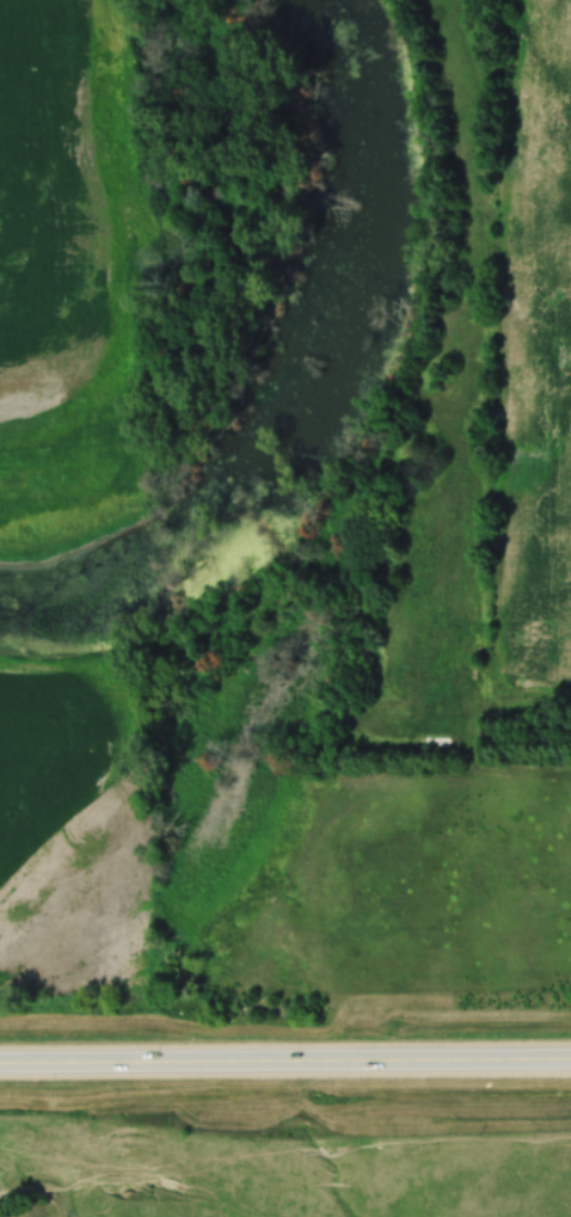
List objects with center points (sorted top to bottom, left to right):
road: (285, 1056)

